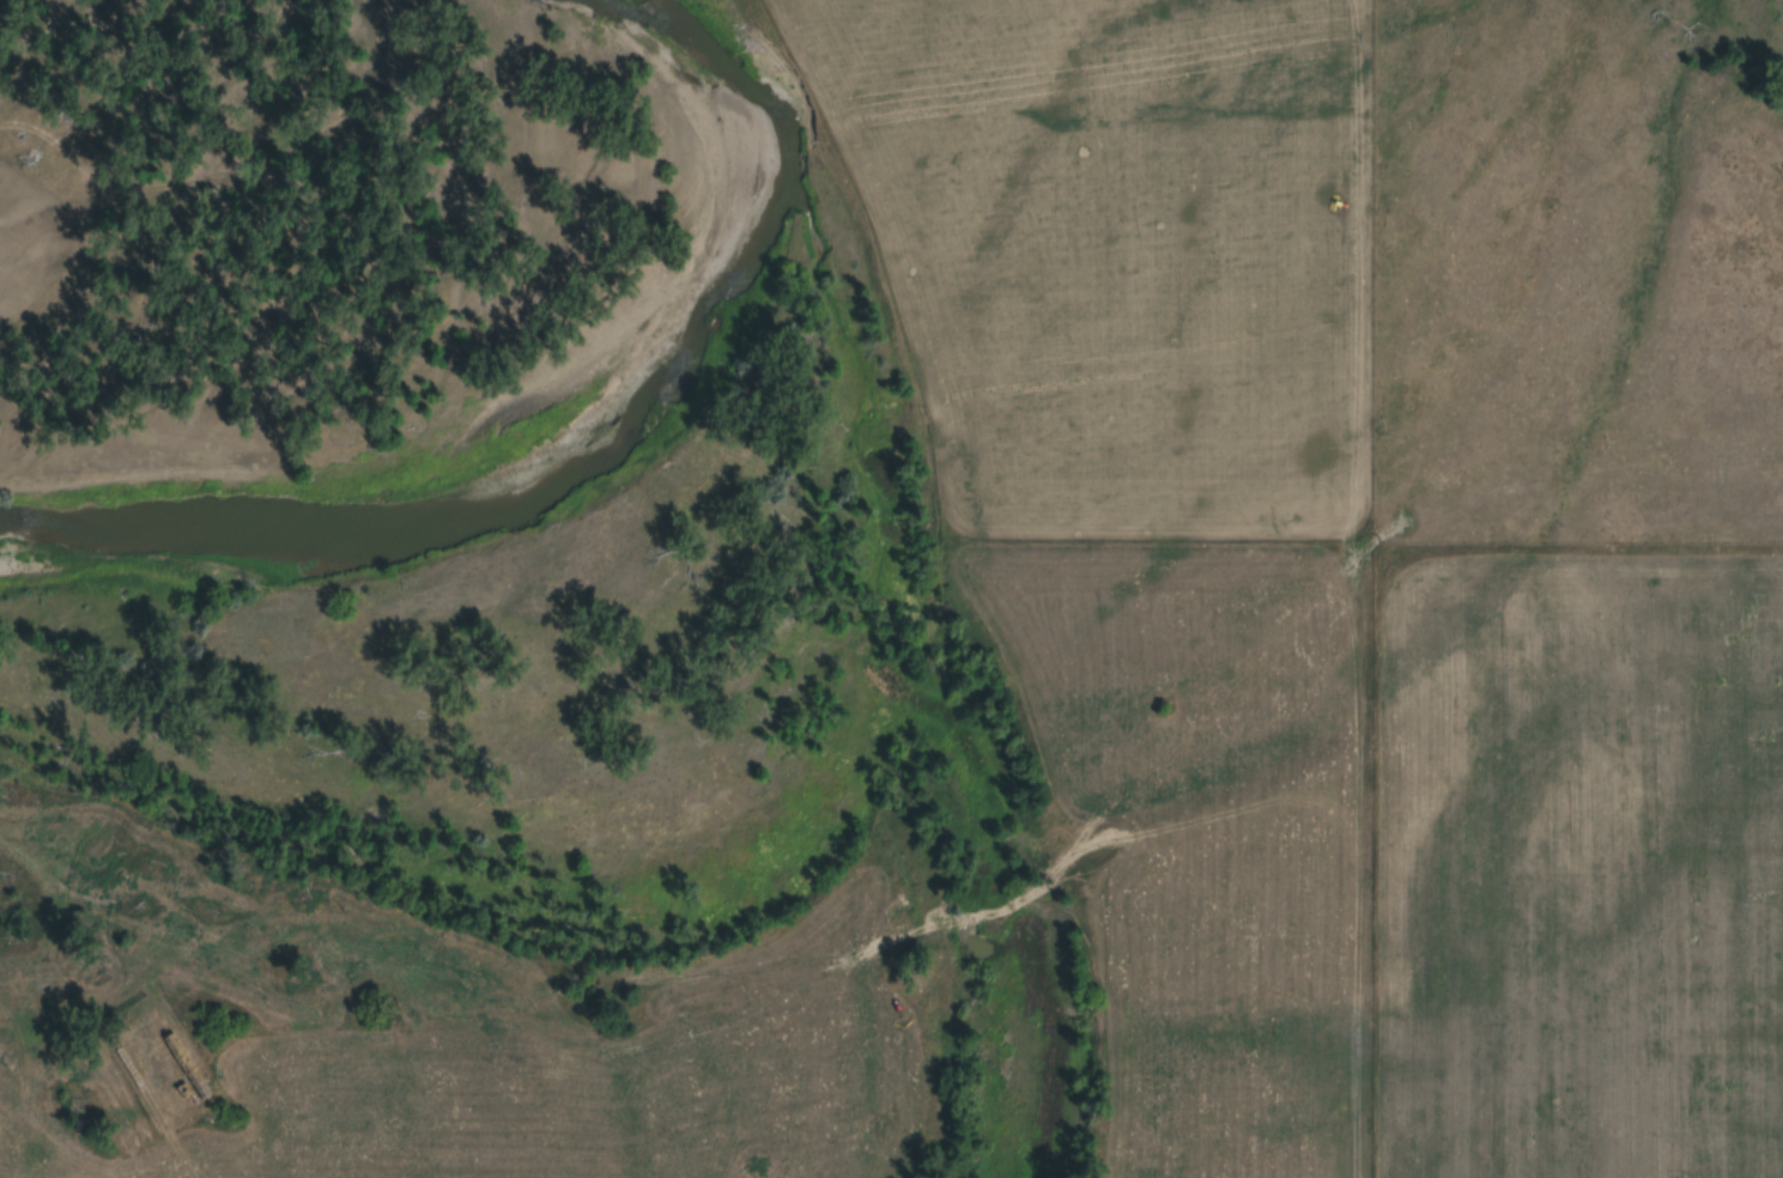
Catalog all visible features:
river: (593, 454)

